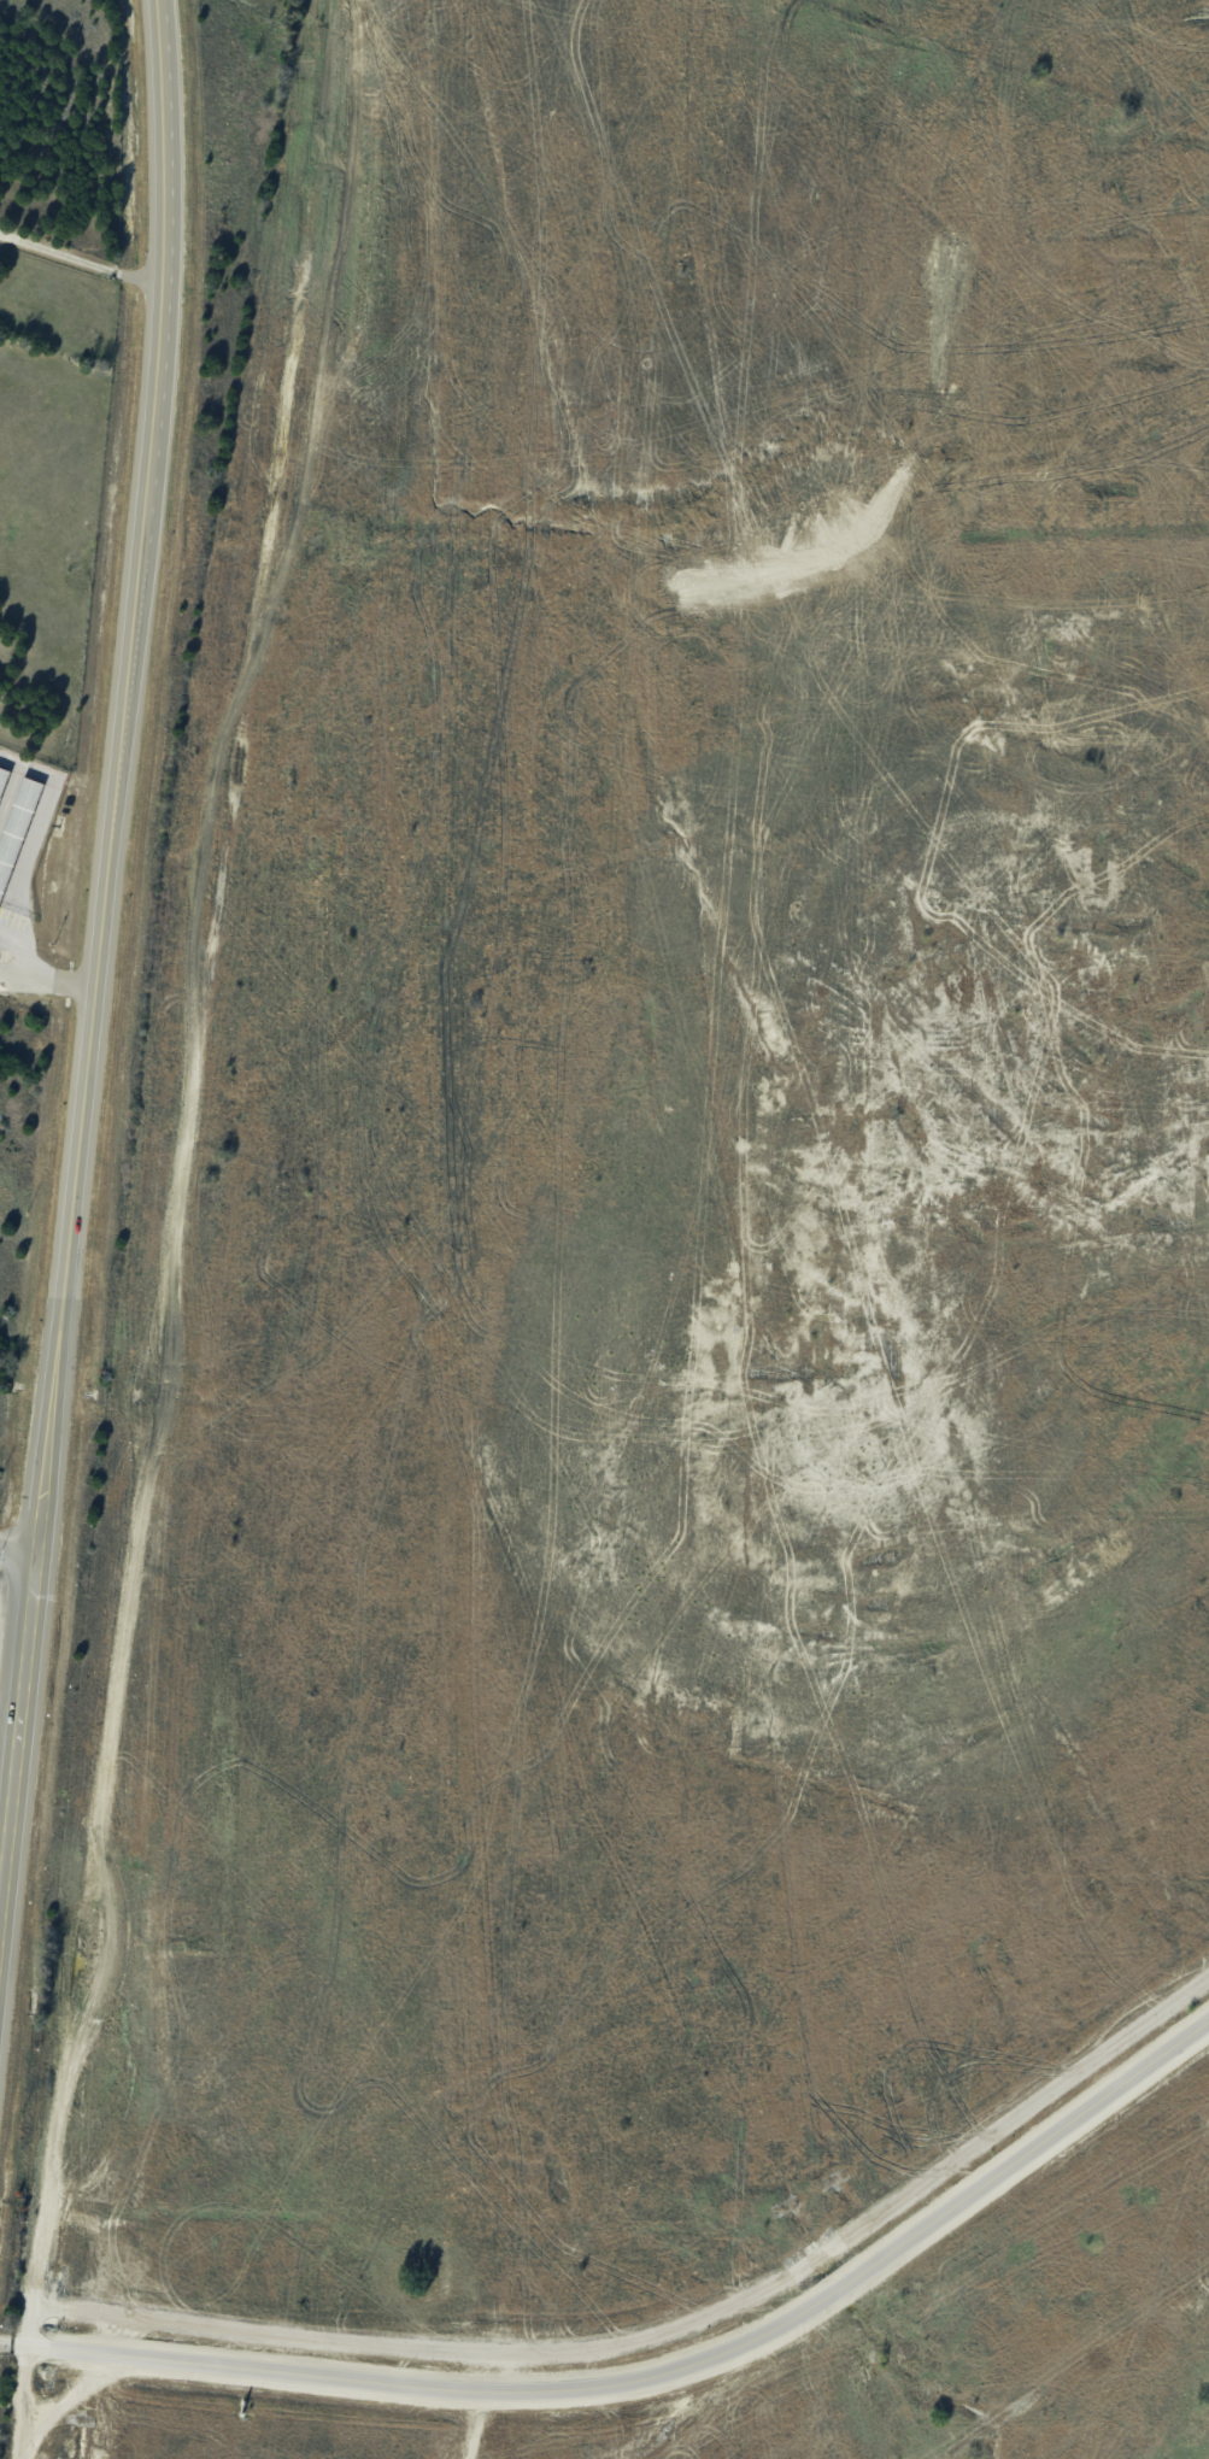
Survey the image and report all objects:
road: (96, 929)
road: (178, 1157)
road: (14, 1556)
road: (671, 2330)
road: (4, 2343)
road: (658, 2379)
road: (23, 2382)
road: (479, 2407)

